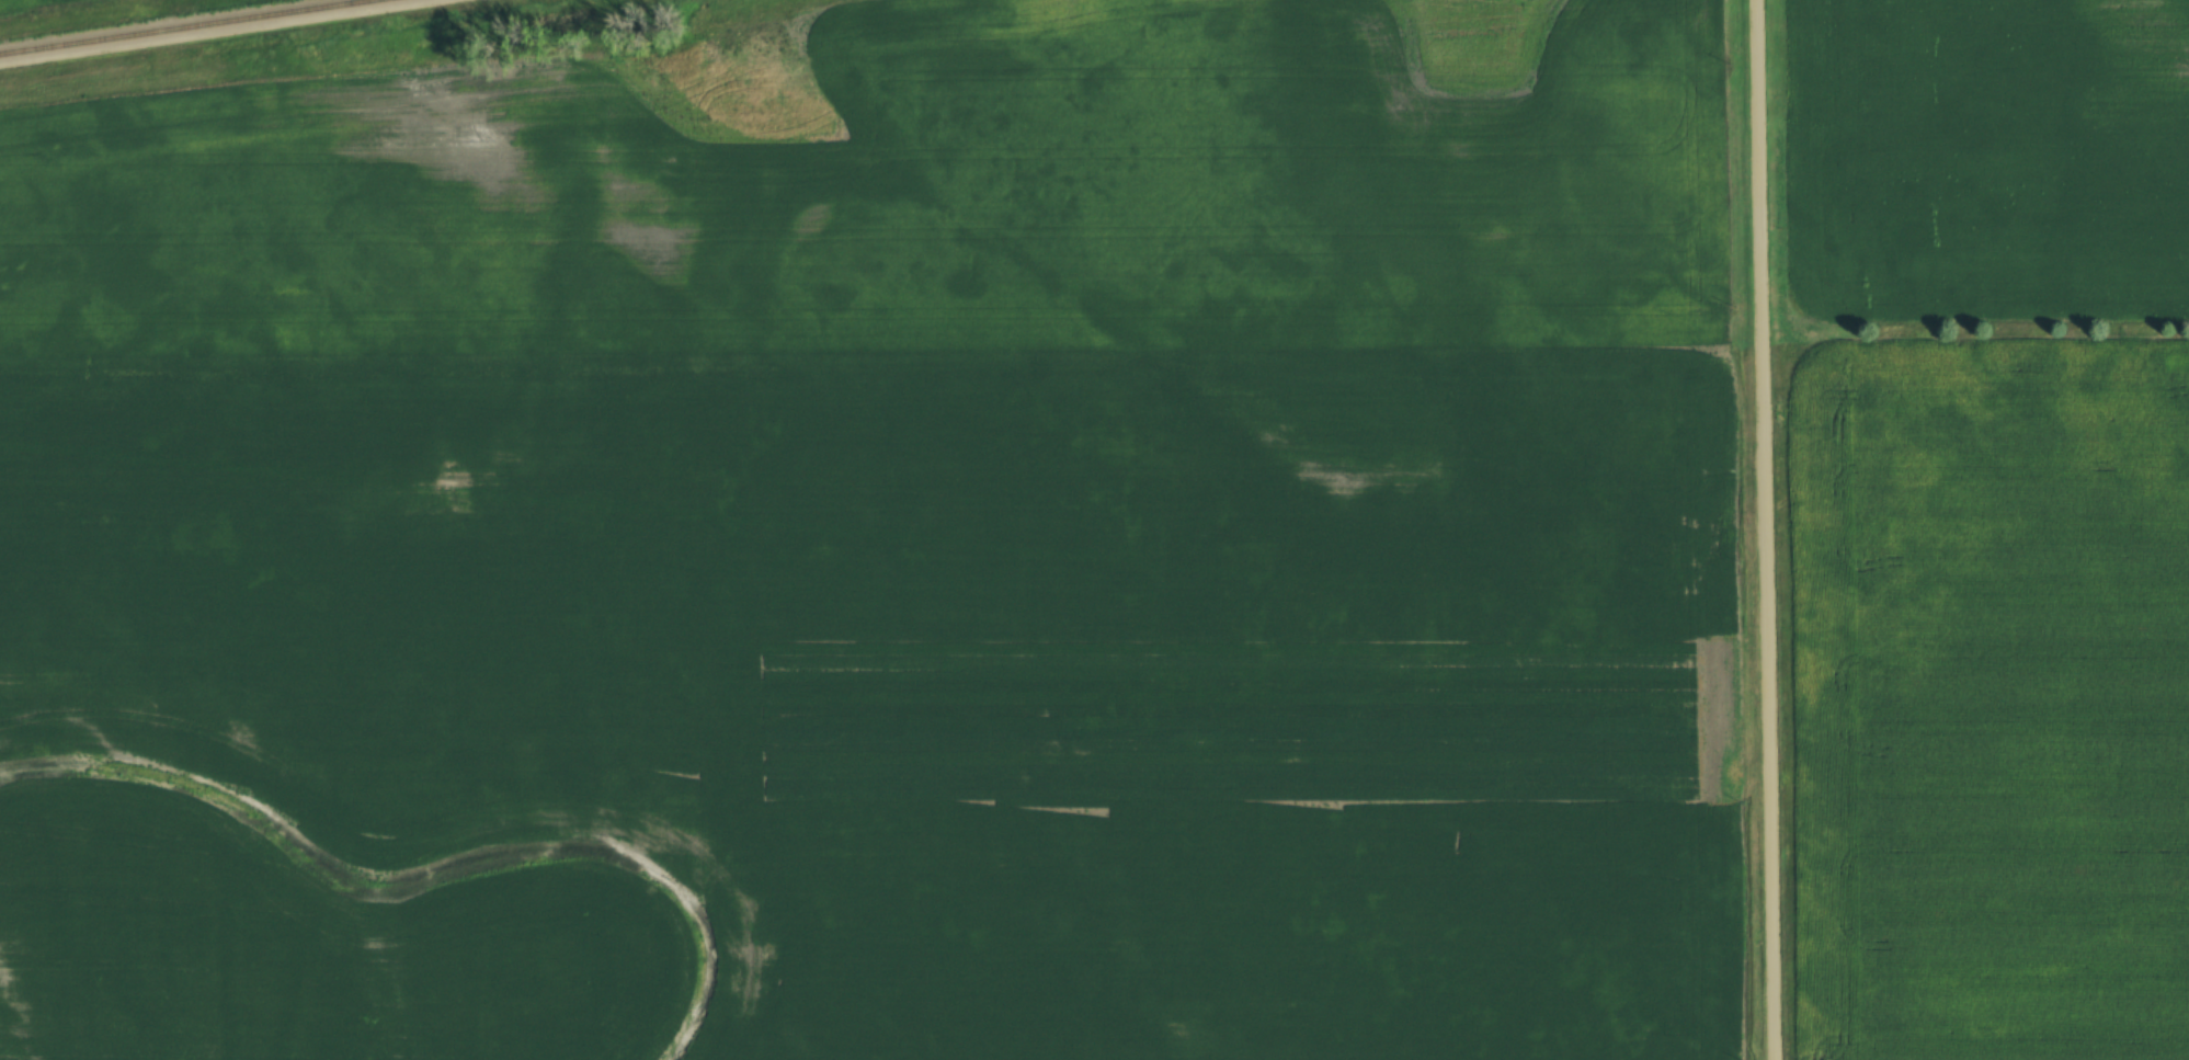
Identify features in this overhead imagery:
railway: (185, 26)
road: (1766, 529)

